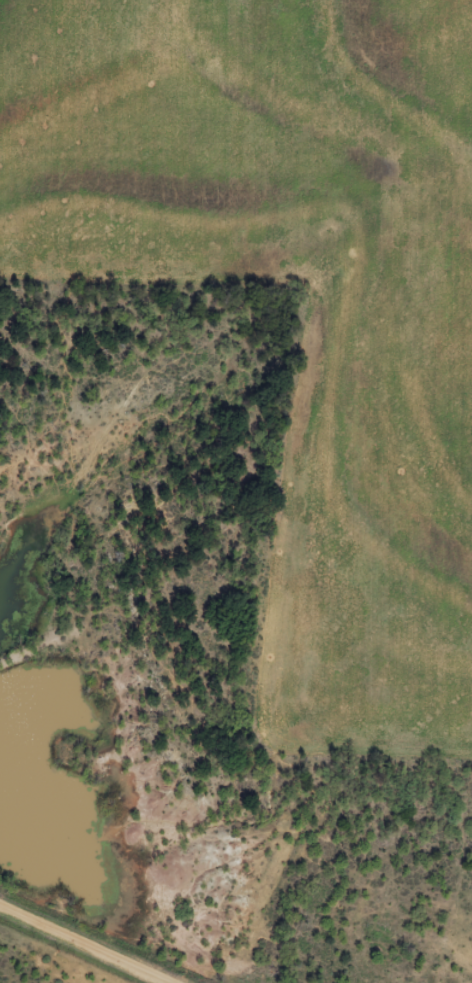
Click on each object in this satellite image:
road: (89, 943)

